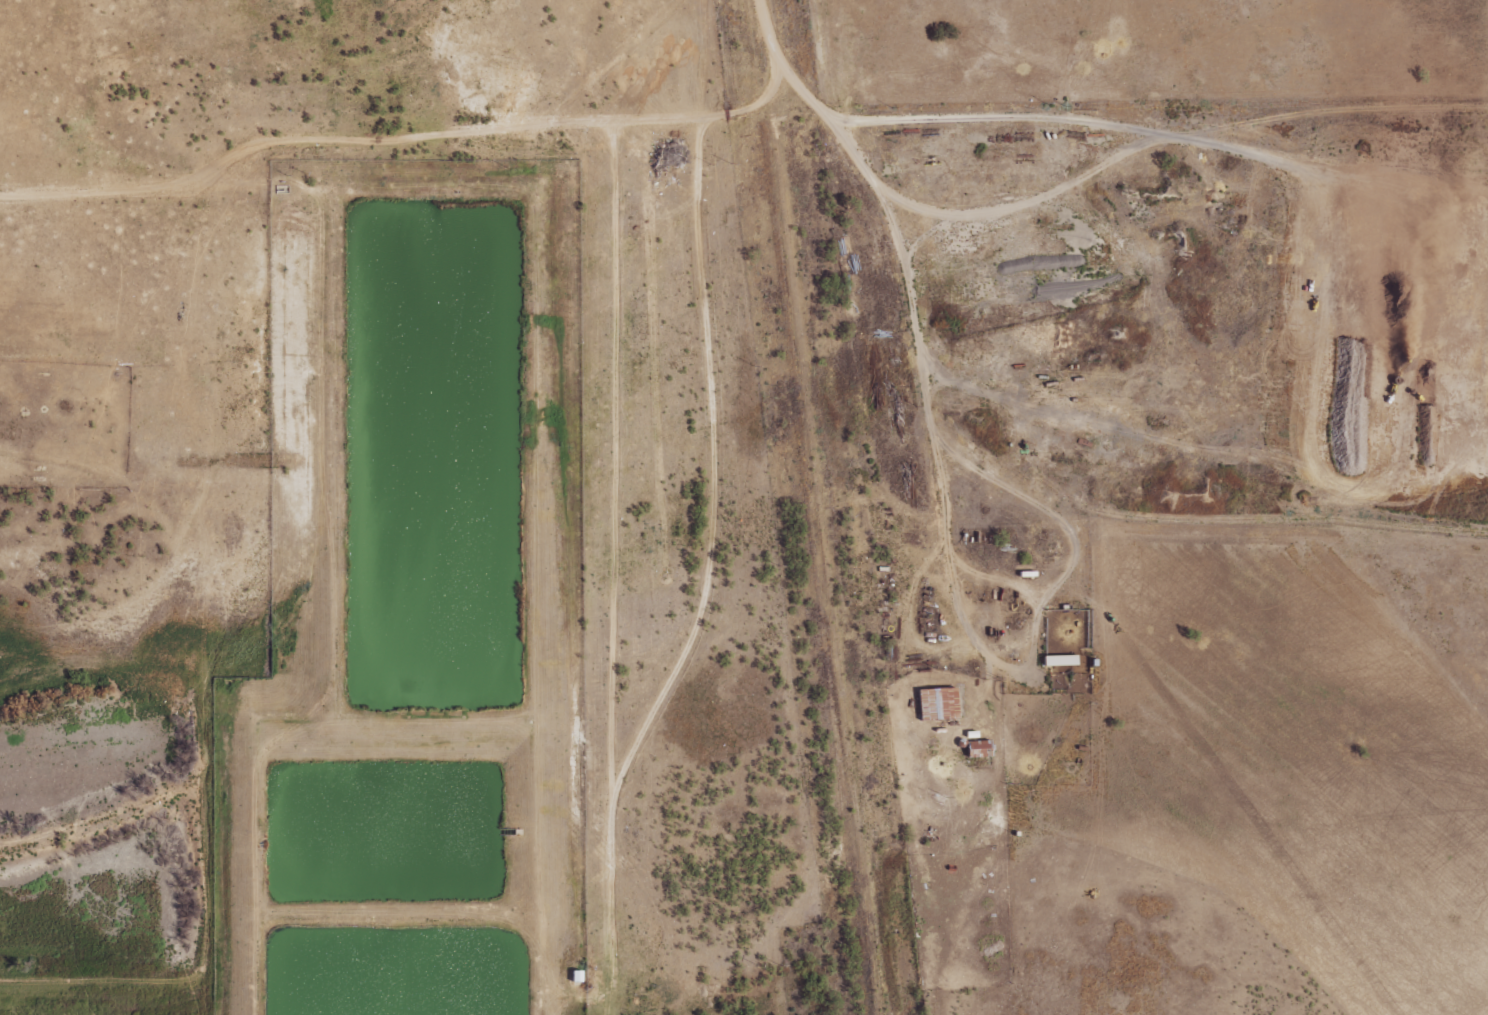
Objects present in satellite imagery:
road: (965, 324)
railway: (798, 507)
building: (934, 703)
building: (574, 976)

